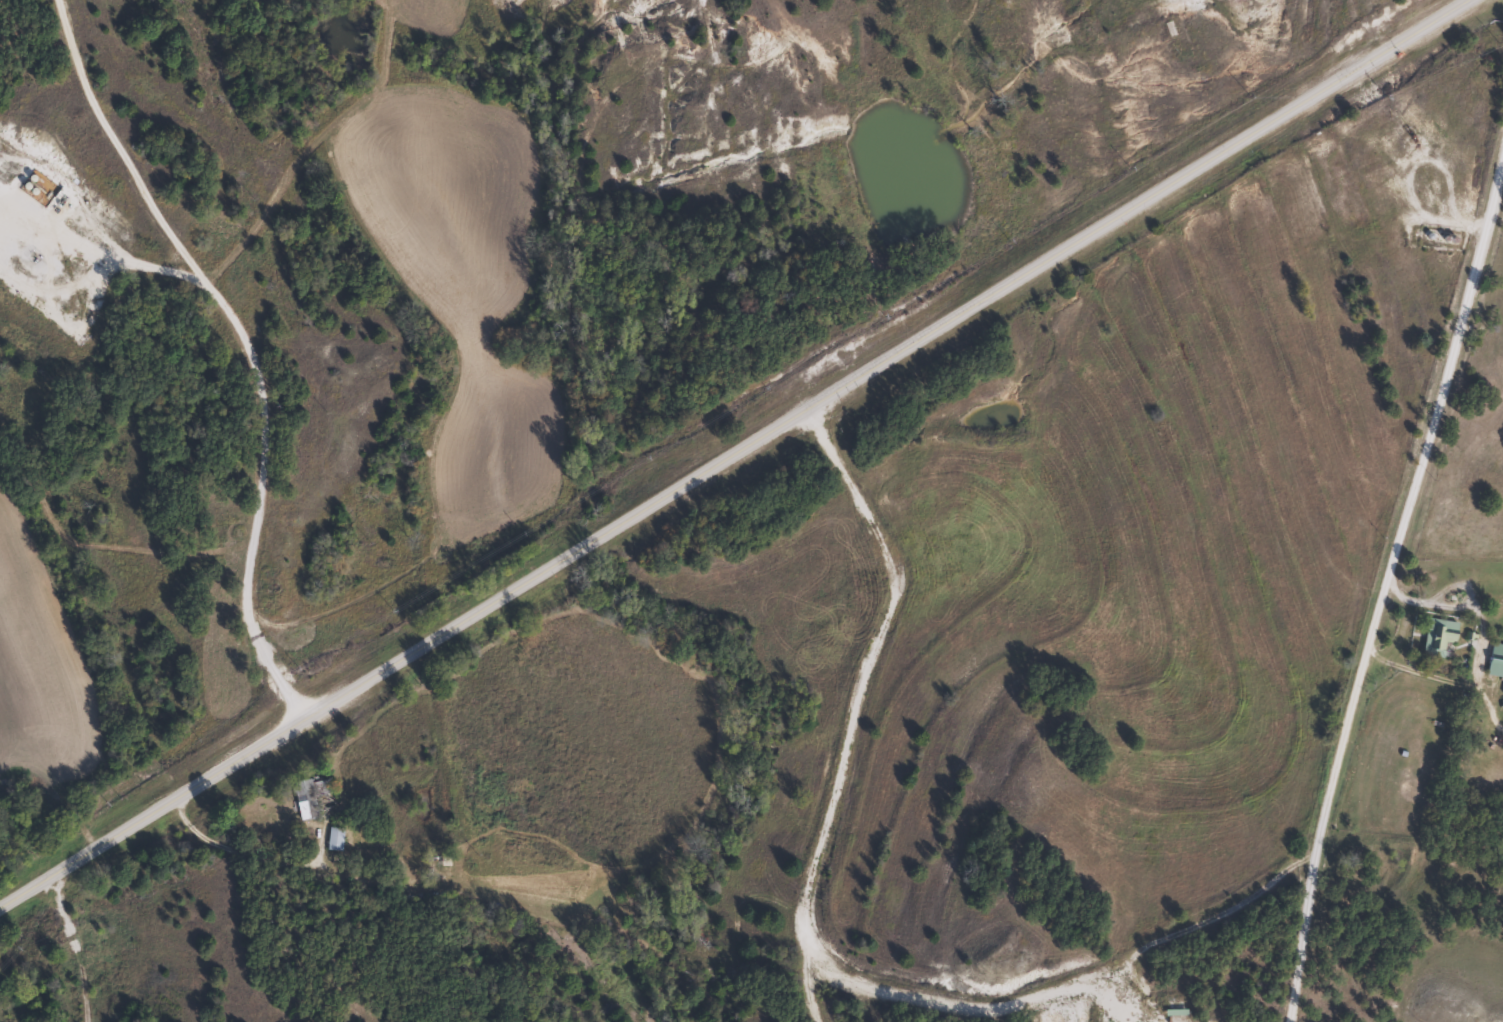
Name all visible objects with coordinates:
road: (232, 350)
road: (885, 360)
road: (1391, 603)
building: (1435, 638)
building: (1494, 661)
building: (302, 800)
road: (151, 813)
building: (332, 839)
road: (824, 843)
road: (80, 946)

